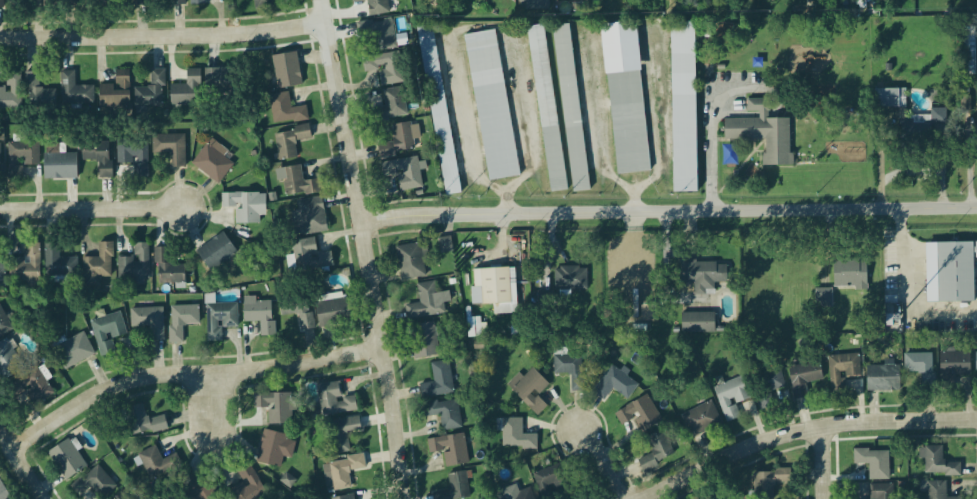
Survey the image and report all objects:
building: (569, 0)
building: (823, 0)
building: (138, 2)
building: (13, 3)
building: (59, 3)
building: (178, 3)
building: (197, 3)
building: (0, 4)
building: (533, 4)
building: (262, 5)
building: (375, 6)
building: (378, 34)
road: (162, 35)
building: (384, 68)
building: (286, 71)
building: (230, 83)
building: (151, 91)
building: (187, 91)
building: (74, 92)
building: (115, 92)
building: (10, 93)
building: (37, 93)
building: (889, 99)
building: (391, 106)
building: (491, 106)
building: (570, 108)
building: (546, 109)
building: (285, 110)
building: (437, 110)
road: (596, 115)
building: (937, 116)
road: (528, 119)
road: (659, 119)
road: (465, 122)
building: (627, 123)
road: (711, 124)
building: (683, 128)
building: (763, 133)
building: (289, 142)
building: (397, 142)
building: (0, 145)
building: (169, 148)
building: (133, 154)
building: (97, 156)
building: (20, 159)
building: (215, 163)
building: (59, 167)
building: (408, 175)
building: (296, 183)
road: (634, 200)
road: (507, 203)
building: (242, 207)
road: (89, 210)
road: (668, 211)
building: (311, 216)
building: (446, 246)
road: (365, 248)
building: (215, 251)
building: (309, 256)
building: (411, 261)
building: (58, 263)
building: (134, 263)
building: (25, 264)
building: (96, 266)
building: (166, 268)
building: (1, 271)
building: (948, 272)
building: (850, 274)
building: (703, 276)
building: (570, 279)
road: (912, 288)
building: (494, 289)
building: (823, 298)
building: (426, 303)
building: (333, 313)
building: (259, 314)
building: (297, 318)
building: (219, 320)
building: (181, 321)
building: (148, 322)
building: (697, 323)
building: (4, 325)
building: (106, 332)
building: (423, 341)
building: (73, 351)
building: (9, 361)
building: (976, 363)
building: (568, 365)
building: (954, 365)
building: (920, 367)
building: (842, 370)
road: (188, 373)
building: (803, 378)
building: (882, 378)
building: (437, 382)
building: (767, 384)
building: (621, 385)
building: (30, 388)
building: (530, 390)
building: (730, 398)
building: (335, 401)
road: (211, 402)
building: (280, 409)
building: (639, 413)
building: (444, 414)
building: (700, 420)
building: (142, 422)
road: (802, 429)
building: (340, 434)
building: (515, 435)
building: (274, 449)
building: (450, 449)
building: (656, 451)
building: (67, 459)
road: (820, 462)
building: (873, 463)
building: (937, 463)
road: (21, 464)
building: (158, 464)
road: (603, 464)
building: (341, 473)
building: (550, 480)
building: (768, 483)
building: (93, 484)
building: (247, 485)
building: (455, 486)
building: (198, 489)
building: (935, 490)
building: (880, 491)
building: (2, 492)
building: (521, 495)
building: (115, 498)
building: (347, 498)

